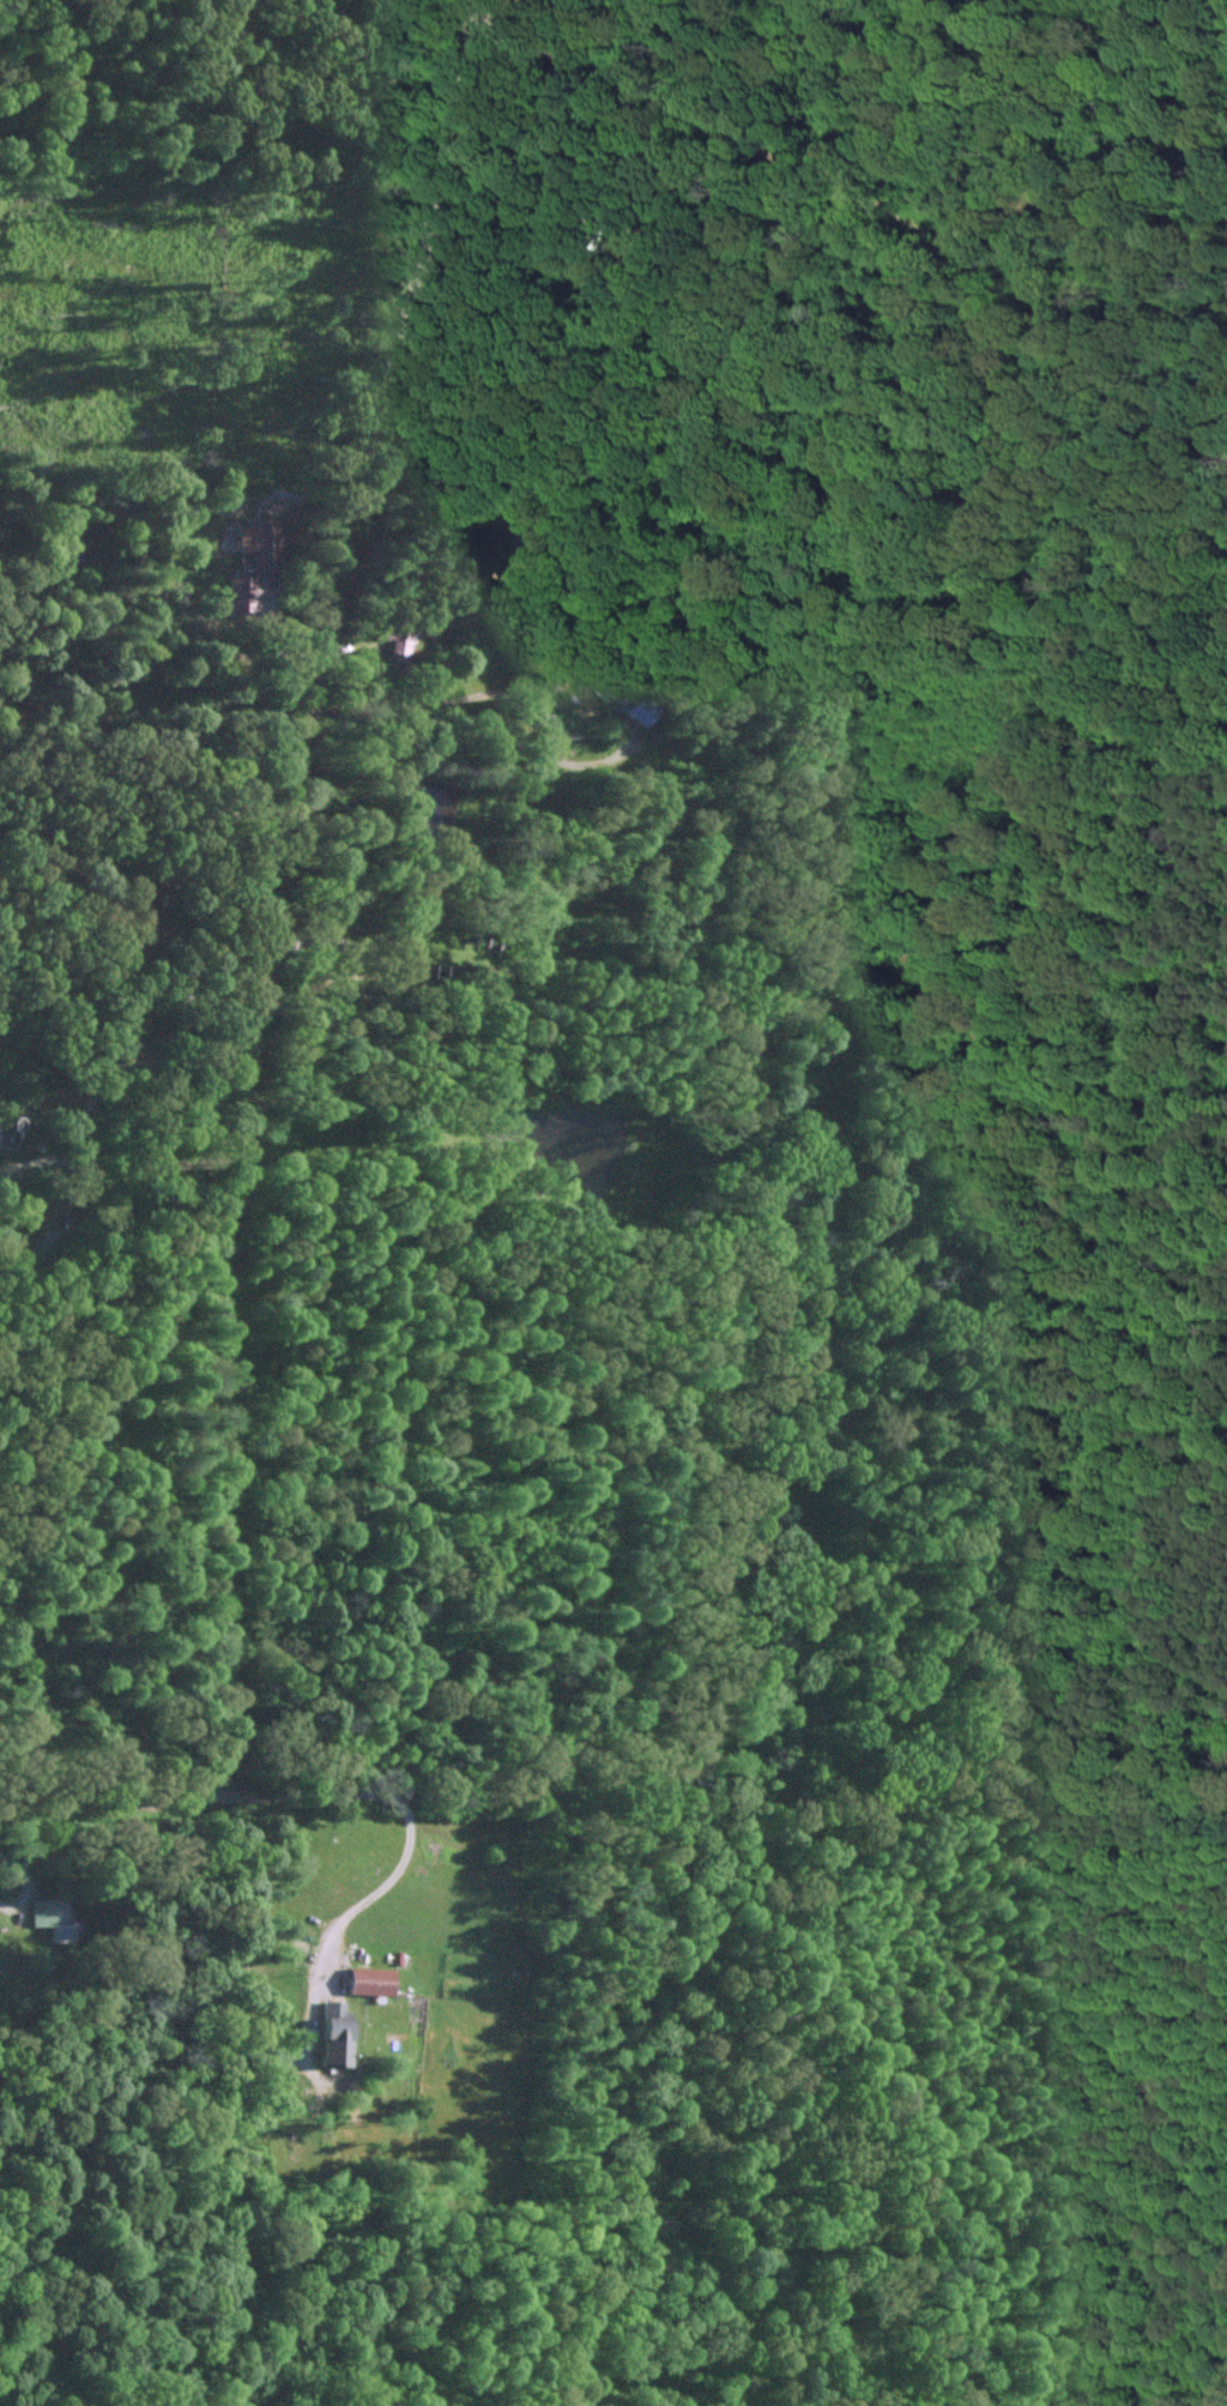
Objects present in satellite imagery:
building: (238, 592)
building: (395, 640)
building: (630, 710)
road: (277, 719)
building: (5, 1130)
road: (200, 1795)
road: (397, 1875)
building: (49, 1916)
building: (367, 1979)
building: (331, 2032)

